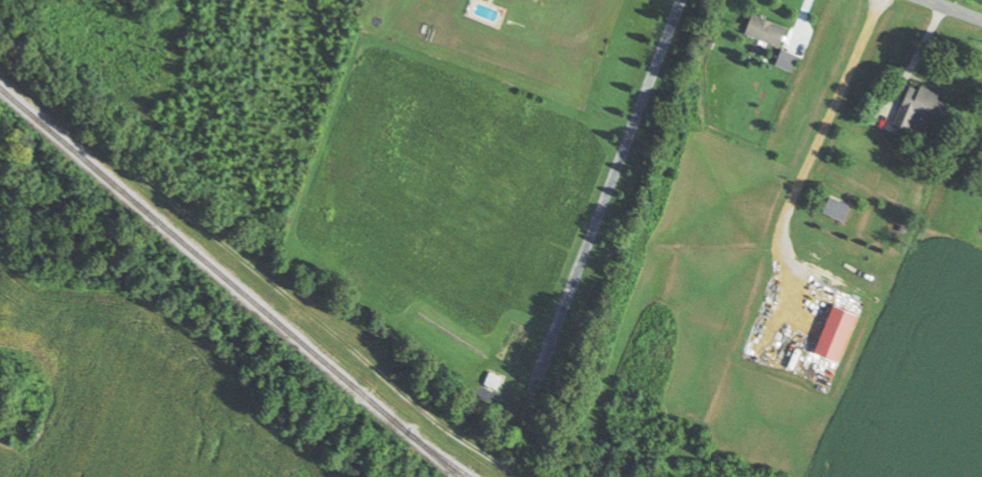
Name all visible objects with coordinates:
road: (959, 8)
railway: (229, 283)
railway: (438, 455)

